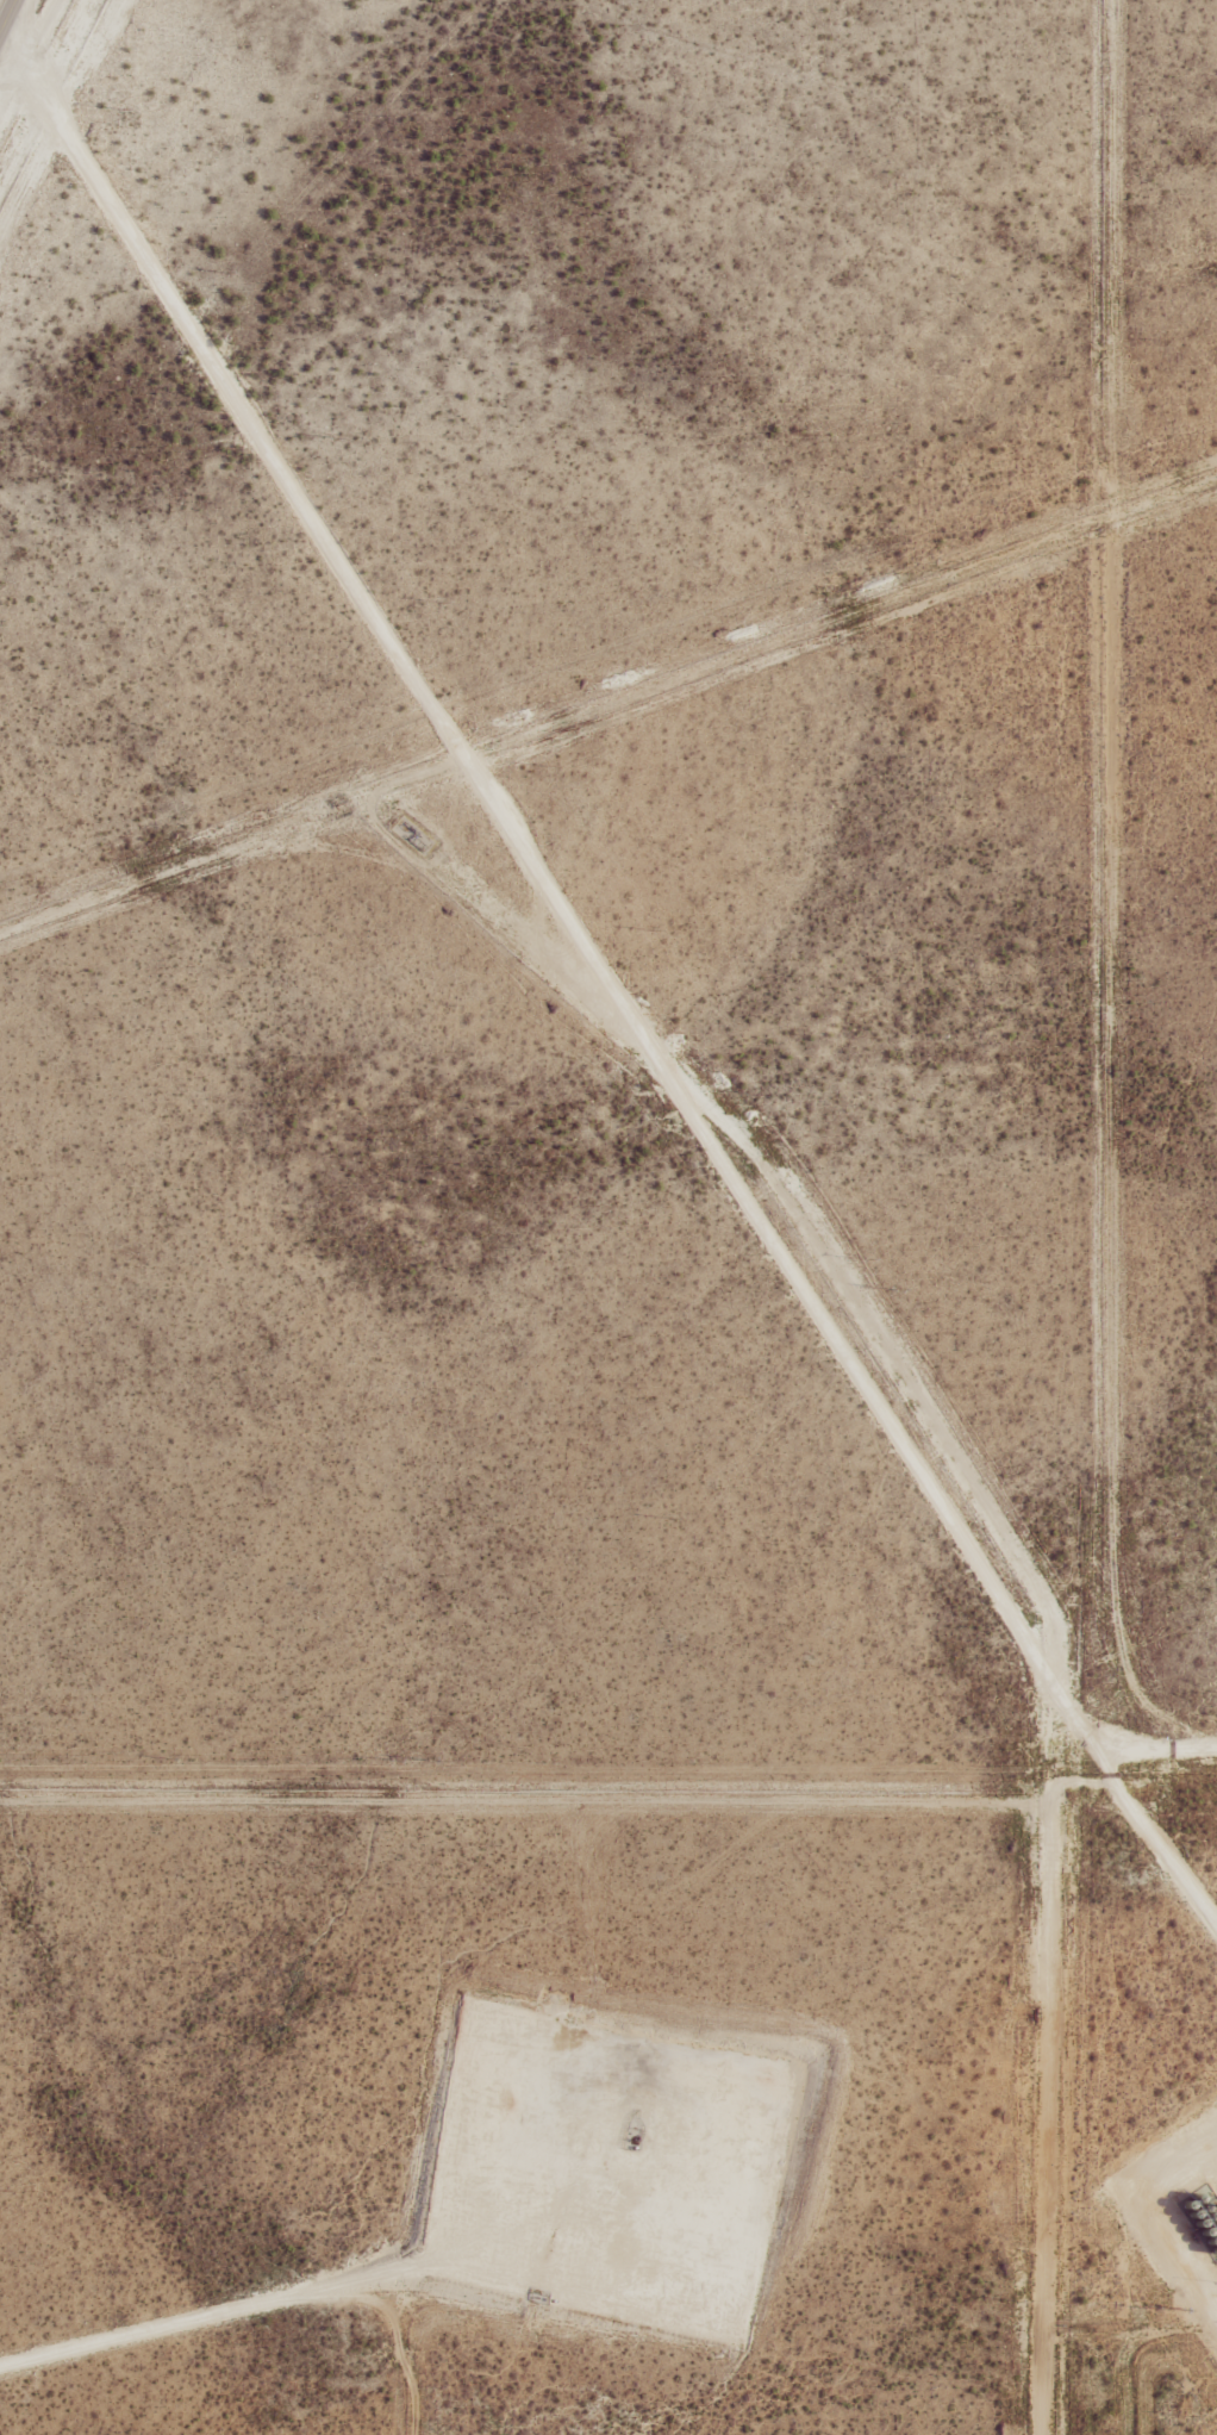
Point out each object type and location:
road: (7, 15)
road: (613, 979)
road: (1157, 1755)
petroleum well: (634, 2141)
road: (256, 2305)

